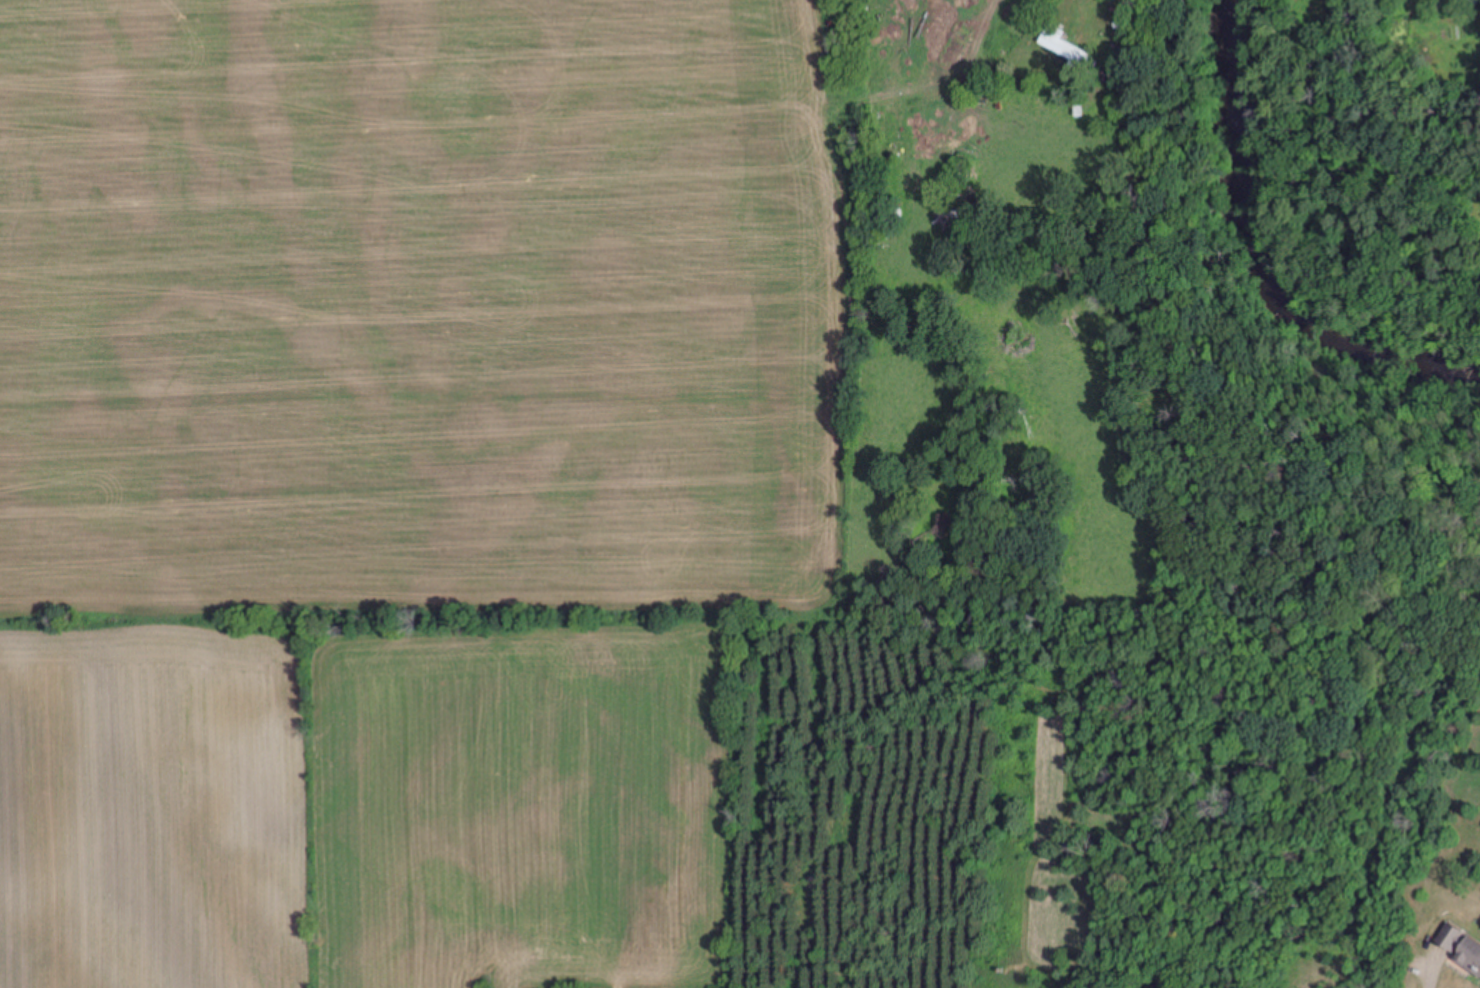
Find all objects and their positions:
building: (1058, 44)
building: (1456, 951)

